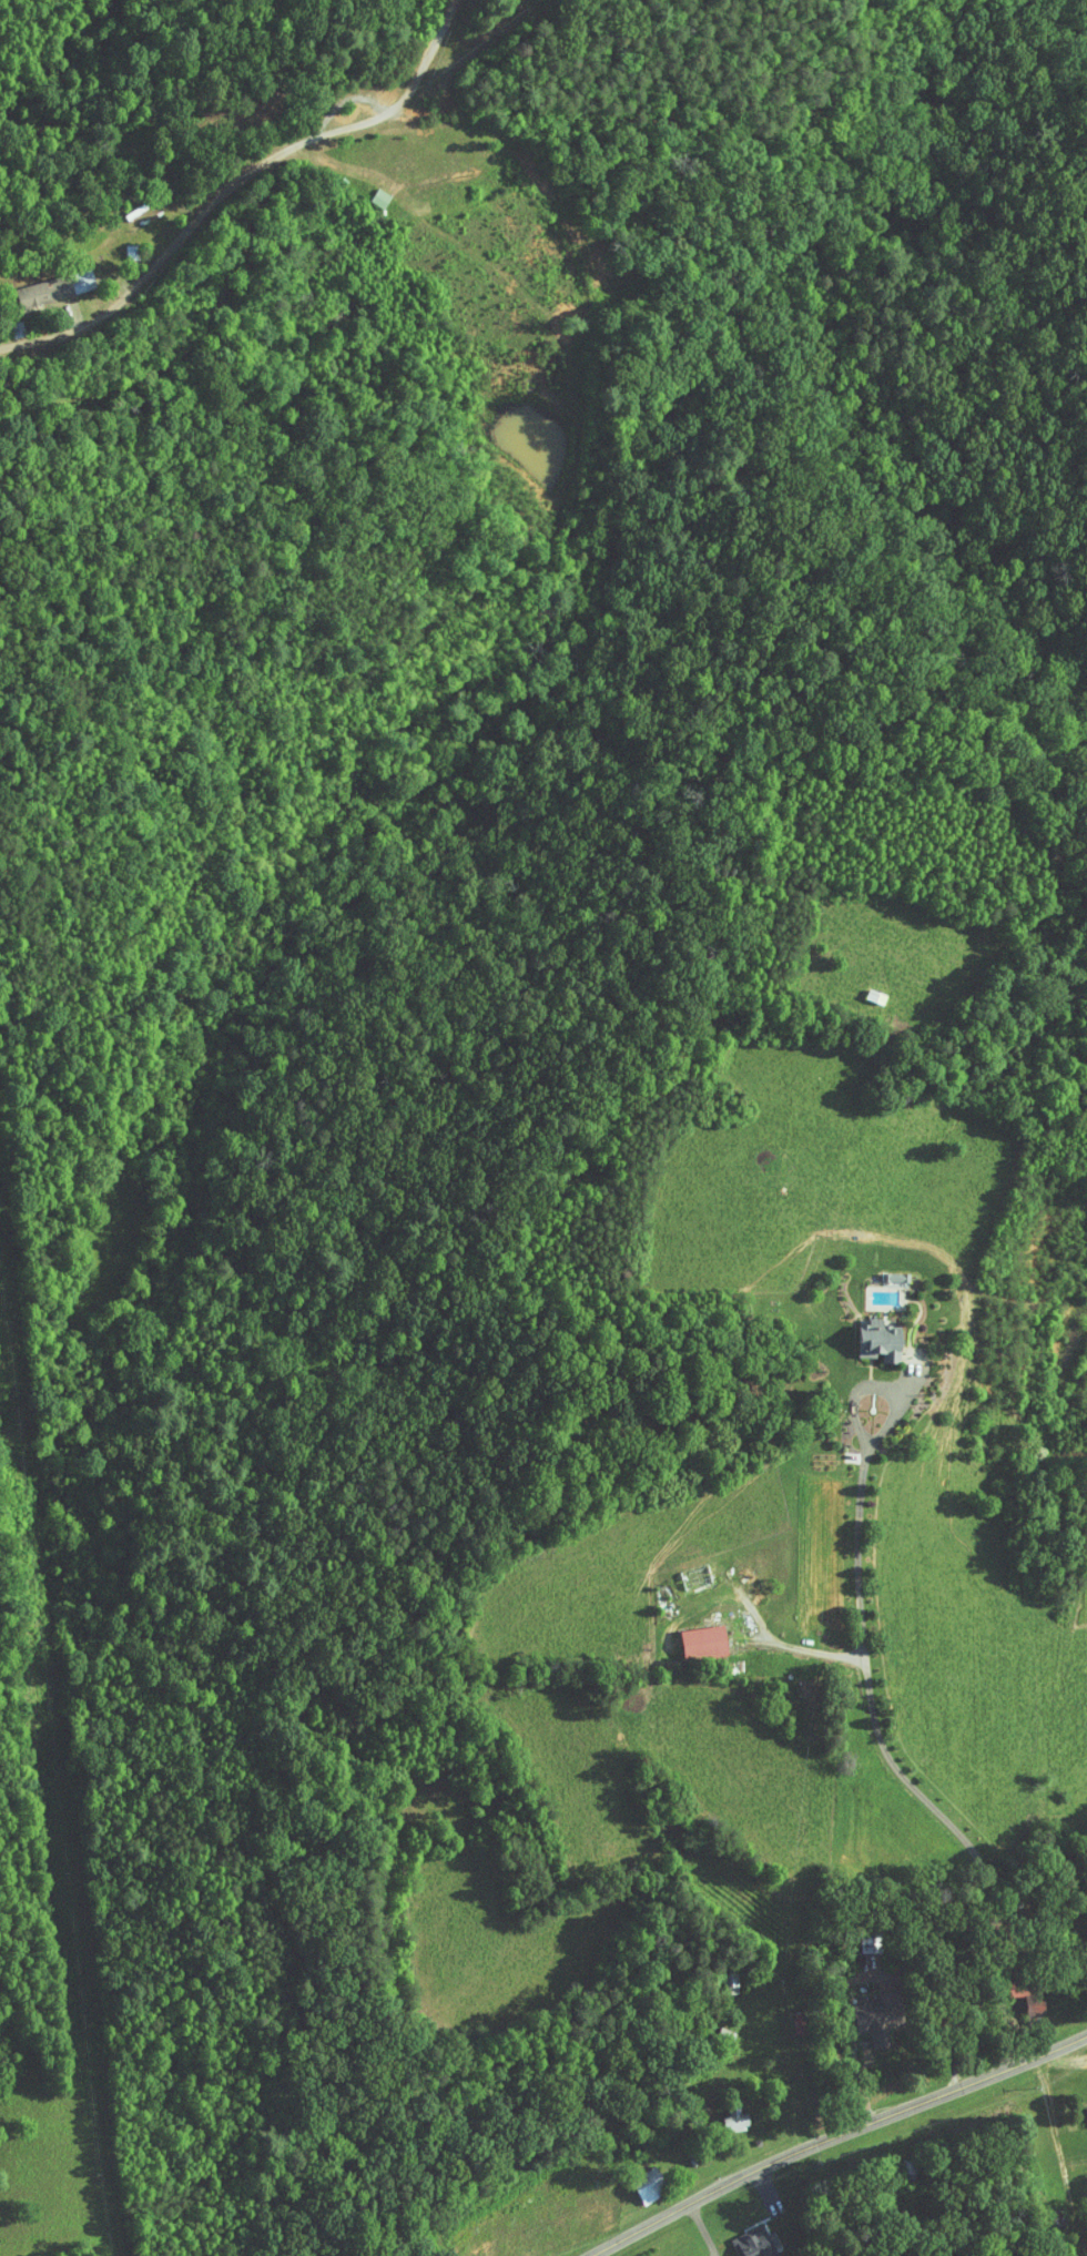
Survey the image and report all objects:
road: (410, 54)
road: (271, 143)
building: (31, 284)
building: (863, 1334)
building: (687, 1634)
road: (795, 1647)
road: (870, 1691)
building: (1016, 1996)
building: (862, 2013)
building: (1079, 2105)
building: (719, 2110)
road: (835, 2136)
building: (632, 2178)
building: (738, 2238)

